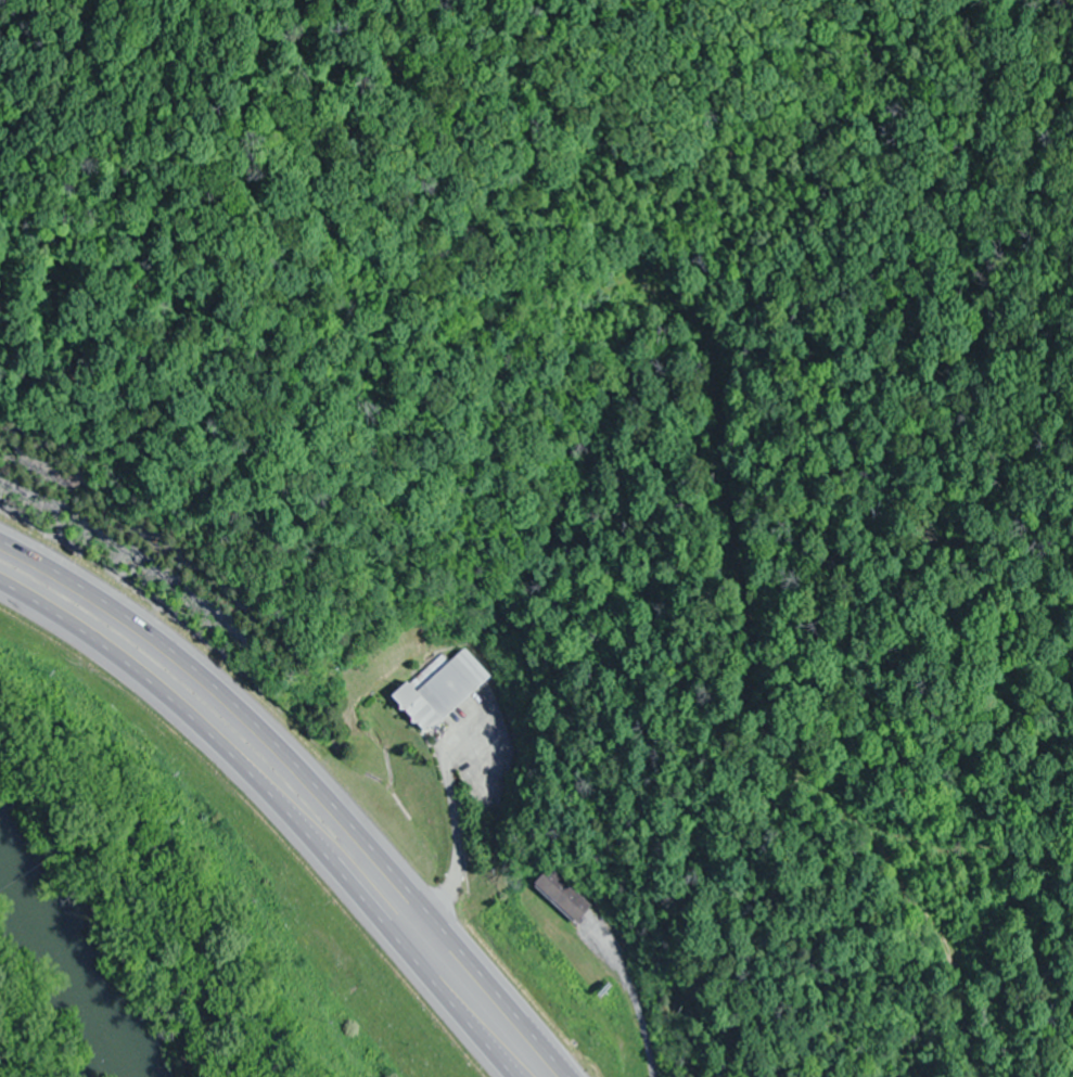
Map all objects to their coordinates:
building: (444, 690)
road: (312, 777)
road: (277, 807)
road: (461, 854)
building: (566, 895)
river: (82, 950)

